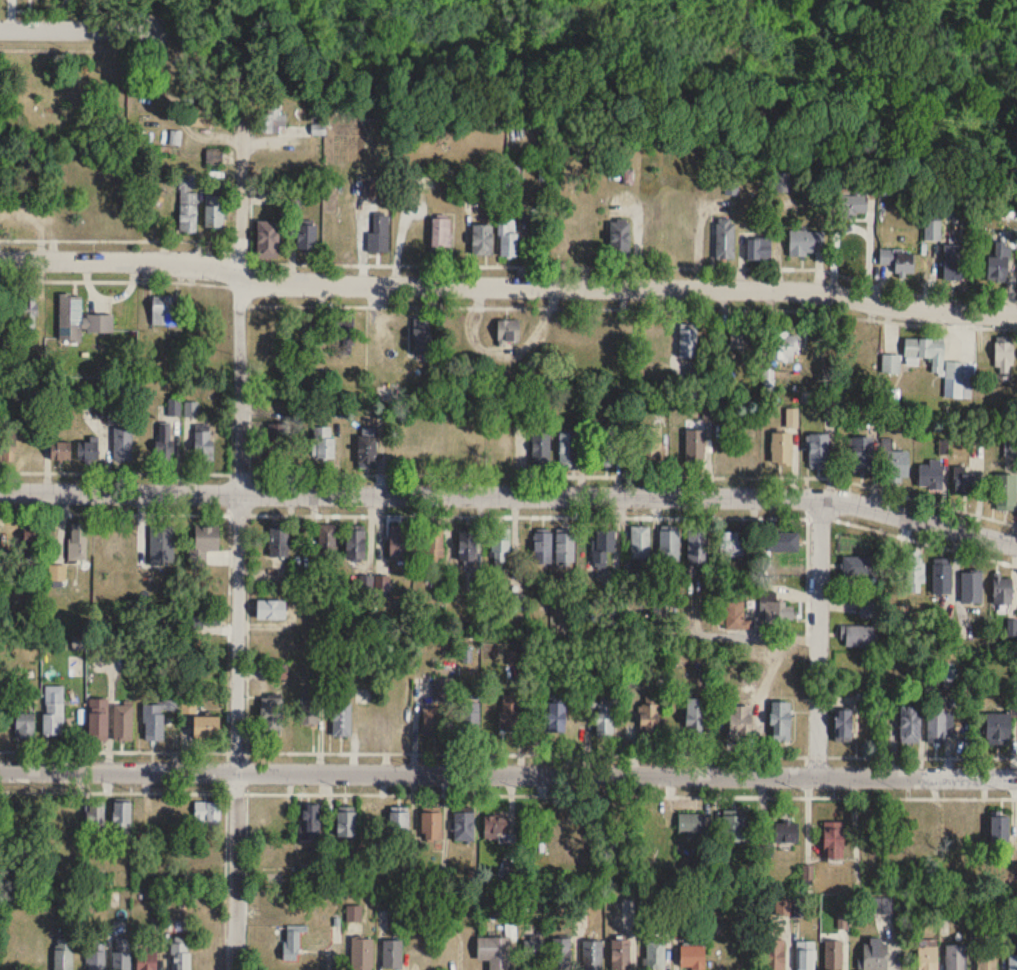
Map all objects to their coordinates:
road: (78, 30)
building: (206, 114)
building: (272, 119)
building: (514, 174)
building: (782, 183)
building: (187, 203)
building: (853, 206)
building: (214, 211)
building: (932, 230)
building: (379, 234)
building: (440, 234)
building: (306, 237)
road: (114, 238)
building: (508, 238)
building: (619, 238)
building: (655, 238)
building: (267, 239)
building: (725, 239)
building: (482, 240)
building: (805, 243)
building: (759, 250)
building: (899, 262)
building: (953, 263)
building: (998, 263)
road: (634, 266)
road: (128, 279)
road: (507, 285)
road: (633, 307)
building: (165, 310)
building: (27, 314)
building: (79, 320)
building: (508, 331)
building: (421, 337)
building: (687, 345)
building: (742, 345)
building: (782, 348)
building: (927, 352)
building: (1004, 355)
building: (891, 364)
building: (959, 371)
building: (386, 393)
building: (278, 436)
building: (322, 442)
building: (203, 443)
building: (694, 443)
building: (649, 444)
building: (7, 445)
building: (122, 445)
building: (606, 446)
building: (367, 447)
building: (1011, 448)
building: (781, 449)
building: (88, 450)
building: (568, 450)
building: (60, 451)
building: (541, 451)
building: (818, 451)
building: (861, 455)
building: (898, 466)
road: (511, 474)
building: (930, 475)
building: (965, 483)
building: (1005, 492)
road: (511, 494)
road: (511, 515)
road: (237, 536)
building: (32, 539)
building: (207, 539)
building: (326, 539)
building: (300, 540)
building: (278, 541)
building: (78, 542)
building: (399, 542)
building: (640, 542)
building: (782, 542)
building: (112, 543)
building: (354, 545)
building: (433, 545)
building: (669, 545)
building: (732, 545)
building: (698, 547)
building: (467, 548)
building: (542, 548)
building: (565, 548)
building: (601, 548)
building: (500, 549)
building: (859, 567)
building: (915, 570)
building: (57, 576)
building: (942, 576)
building: (971, 587)
building: (1002, 590)
building: (868, 609)
building: (270, 610)
building: (775, 612)
building: (736, 616)
building: (205, 618)
road: (817, 635)
building: (857, 636)
building: (280, 670)
building: (443, 690)
building: (865, 699)
building: (309, 709)
building: (271, 713)
building: (509, 714)
building: (53, 717)
building: (95, 717)
building: (649, 717)
building: (555, 718)
building: (120, 719)
building: (341, 719)
building: (470, 719)
building: (695, 719)
building: (434, 720)
building: (604, 720)
building: (740, 720)
building: (154, 722)
building: (781, 722)
building: (22, 724)
building: (910, 724)
building: (205, 726)
building: (843, 726)
building: (938, 727)
building: (998, 728)
road: (122, 750)
road: (245, 770)
road: (508, 772)
road: (122, 791)
building: (206, 817)
building: (94, 820)
building: (121, 823)
building: (310, 823)
building: (690, 823)
building: (371, 824)
building: (431, 827)
building: (463, 827)
building: (400, 828)
building: (734, 829)
building: (999, 829)
building: (497, 831)
building: (786, 833)
building: (958, 834)
building: (833, 840)
building: (575, 842)
building: (543, 847)
building: (292, 944)
building: (495, 953)
building: (180, 954)
building: (361, 954)
building: (560, 954)
building: (655, 954)
building: (928, 954)
building: (63, 955)
building: (121, 955)
building: (392, 955)
building: (533, 955)
building: (592, 955)
building: (621, 955)
building: (773, 955)
building: (805, 955)
building: (833, 955)
building: (875, 955)
building: (692, 957)
building: (955, 958)
building: (986, 958)
building: (96, 961)
building: (1012, 962)
building: (146, 966)

